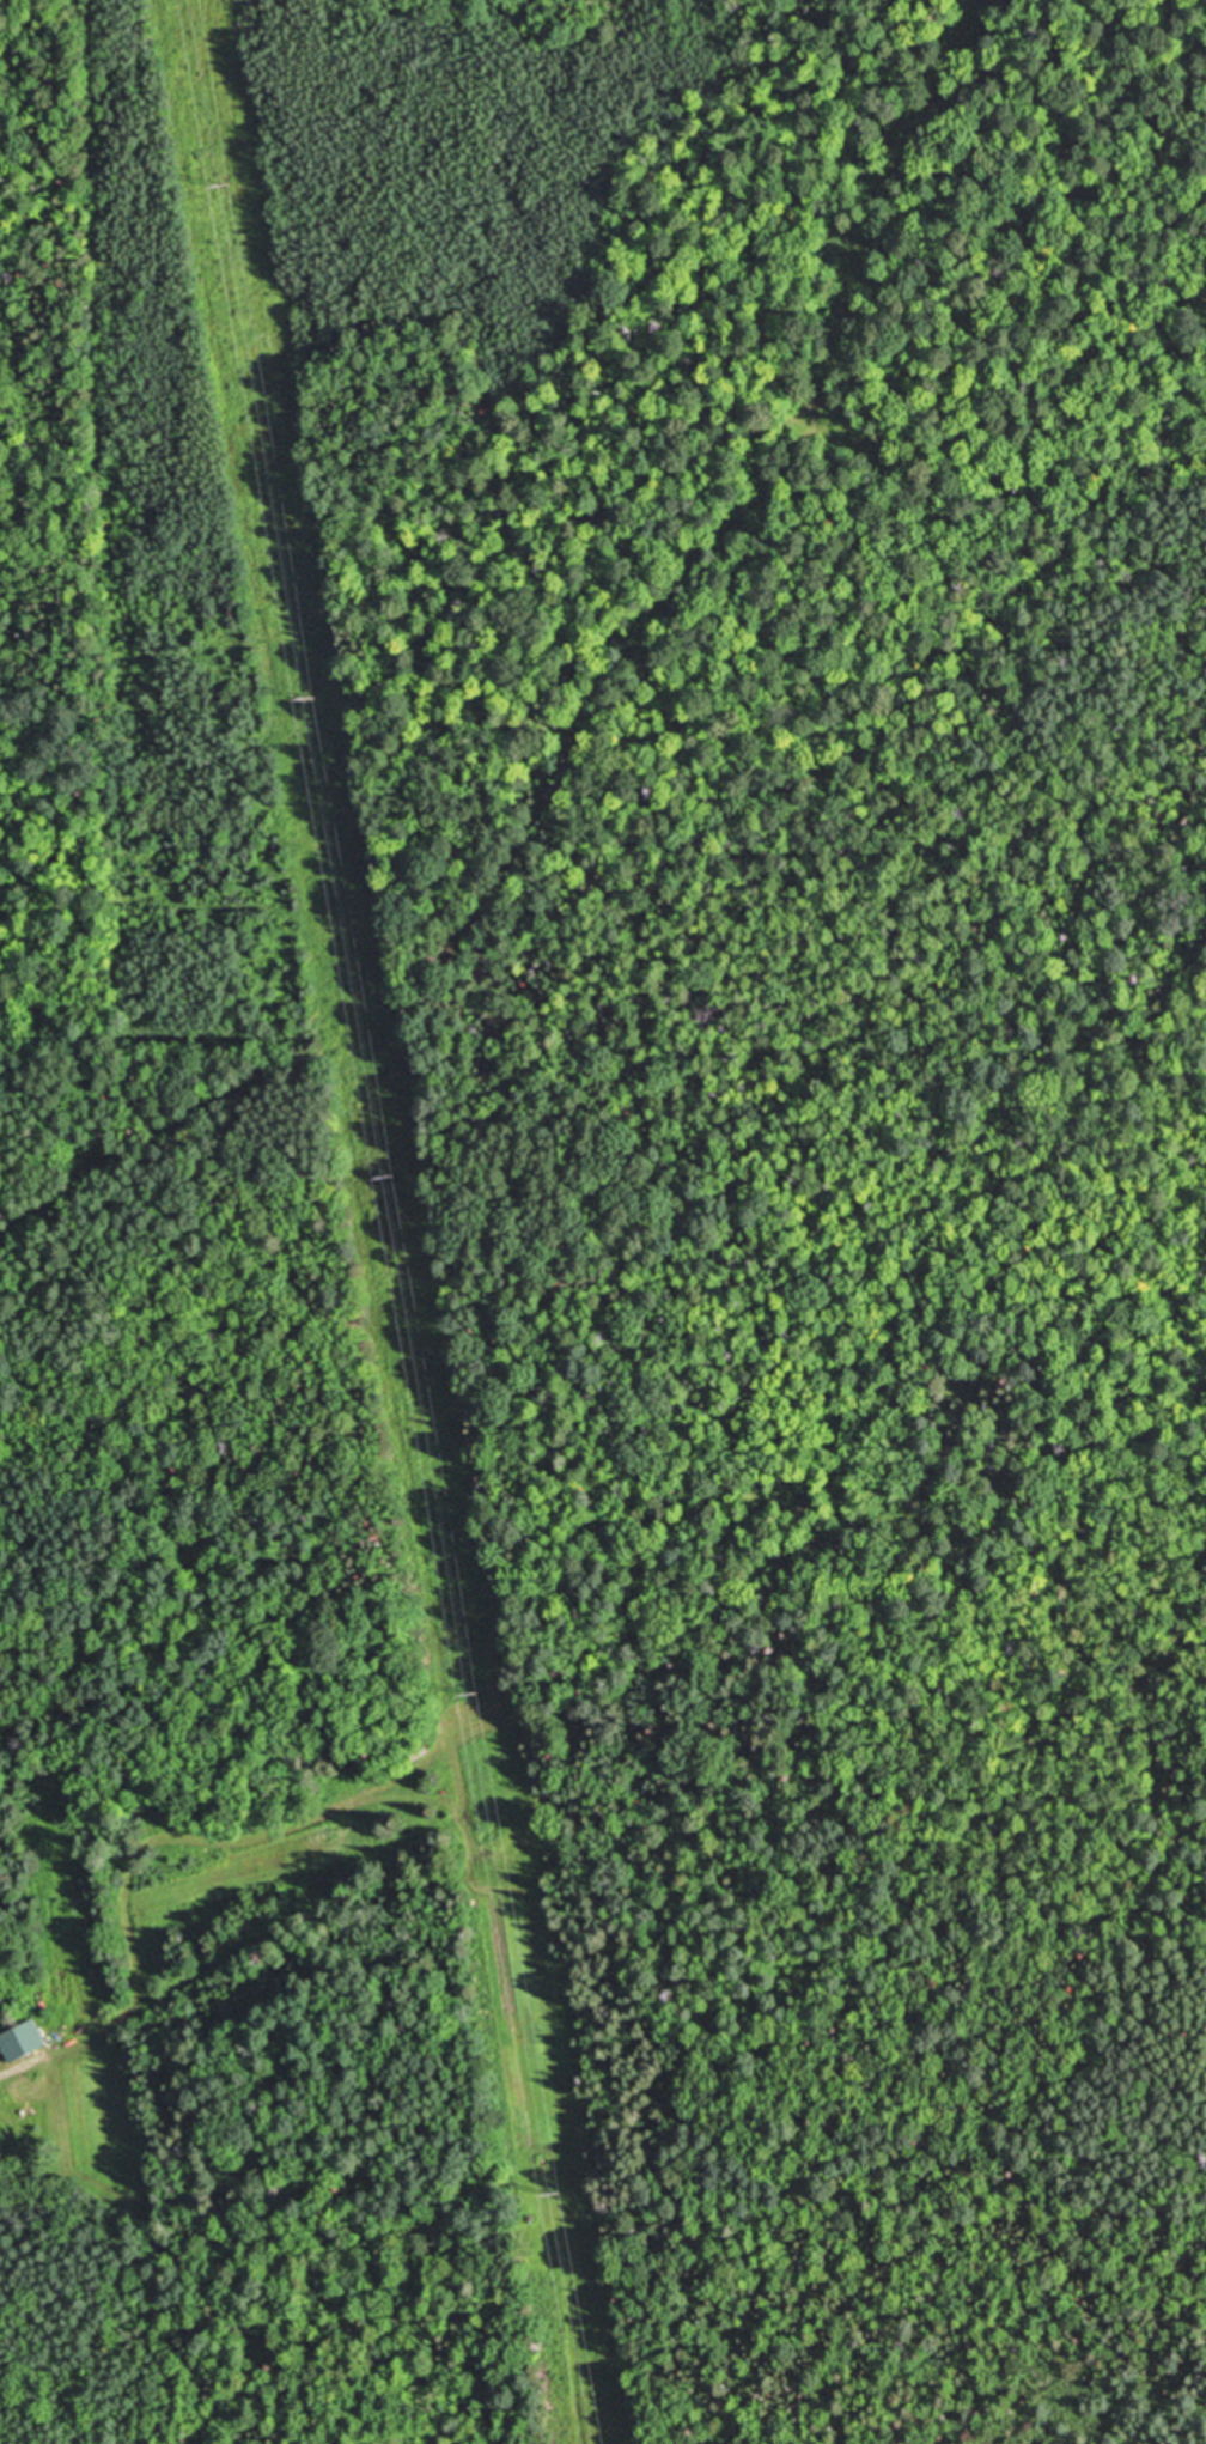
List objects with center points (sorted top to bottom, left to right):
road: (599, 716)

